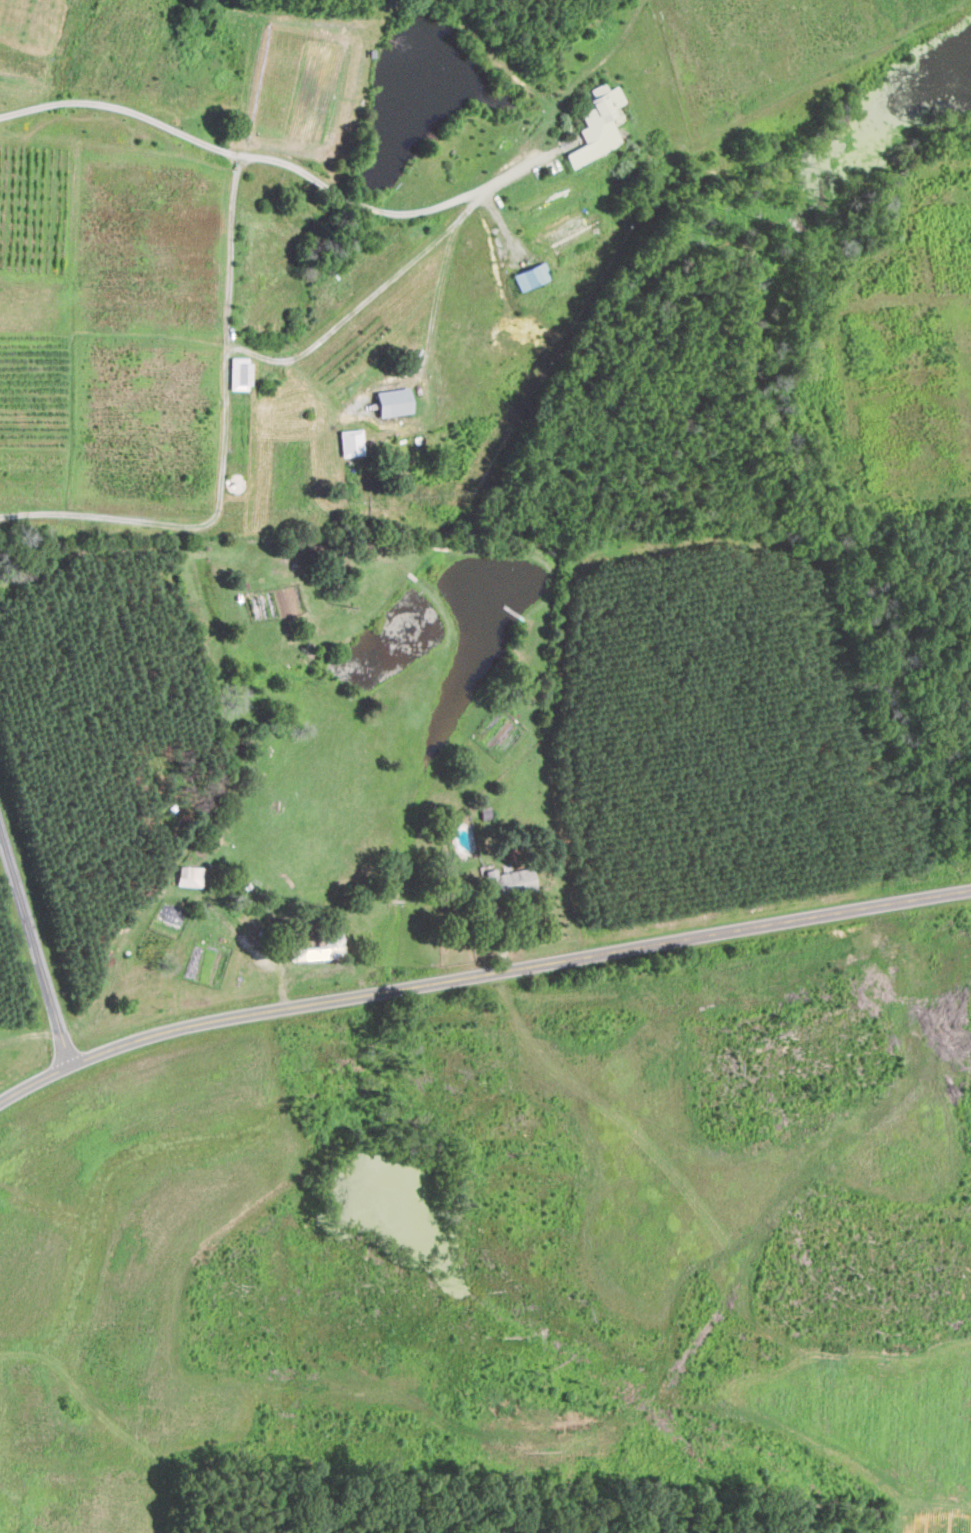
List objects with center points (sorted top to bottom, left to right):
building: (596, 124)
road: (273, 159)
building: (576, 232)
road: (231, 249)
building: (531, 275)
road: (436, 295)
building: (239, 372)
road: (226, 382)
building: (392, 401)
building: (350, 442)
building: (188, 875)
building: (509, 881)
building: (333, 940)
road: (36, 941)
road: (479, 976)

